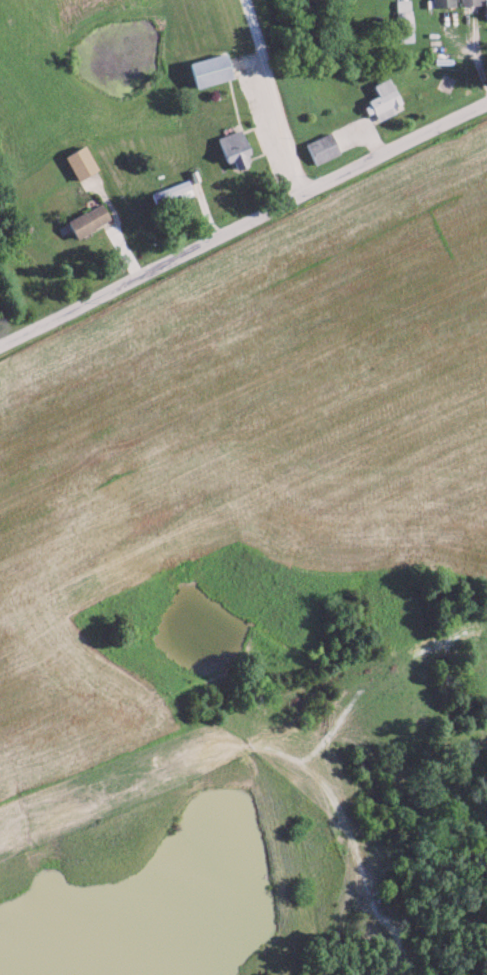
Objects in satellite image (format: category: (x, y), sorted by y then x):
building: (441, 3)
building: (485, 11)
building: (404, 20)
building: (208, 69)
road: (274, 94)
building: (381, 99)
building: (231, 147)
building: (321, 147)
building: (78, 161)
building: (172, 191)
building: (87, 219)
road: (242, 221)

